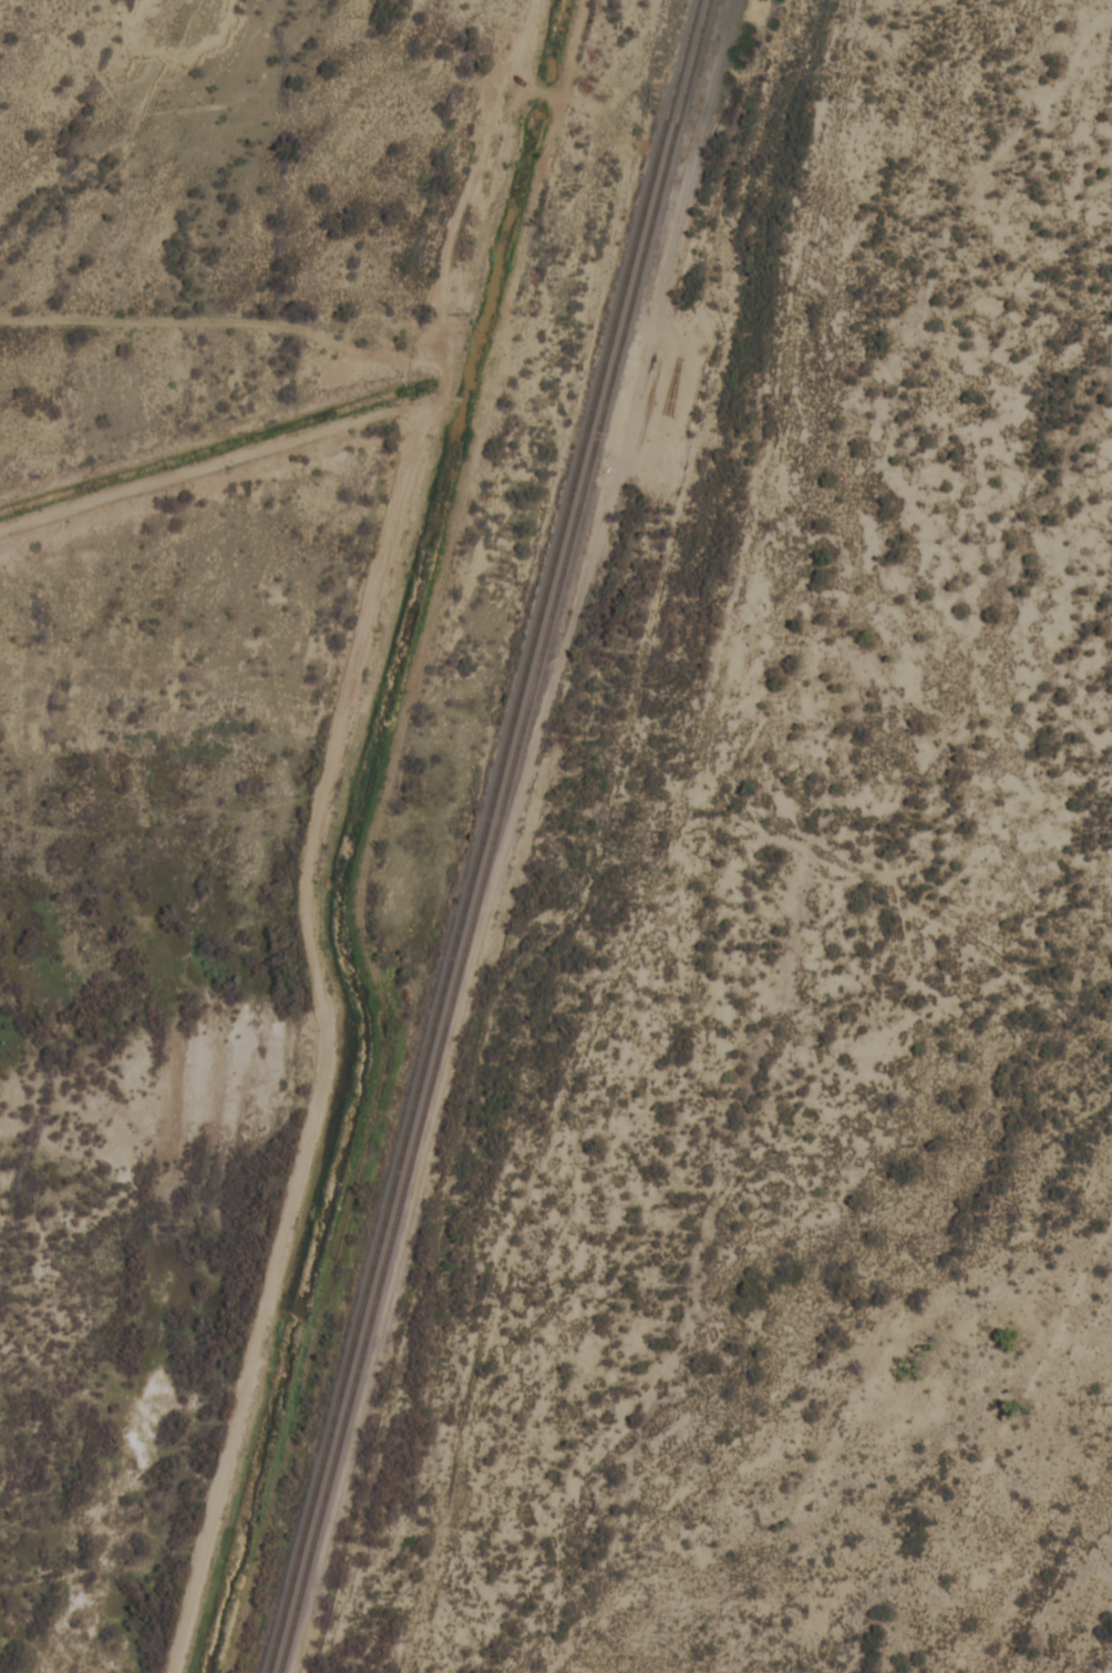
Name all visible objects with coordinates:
road: (480, 170)
road: (226, 320)
road: (216, 465)
railway: (485, 836)
railway: (495, 836)
road: (727, 844)
road: (618, 852)
road: (918, 951)
road: (325, 1007)

